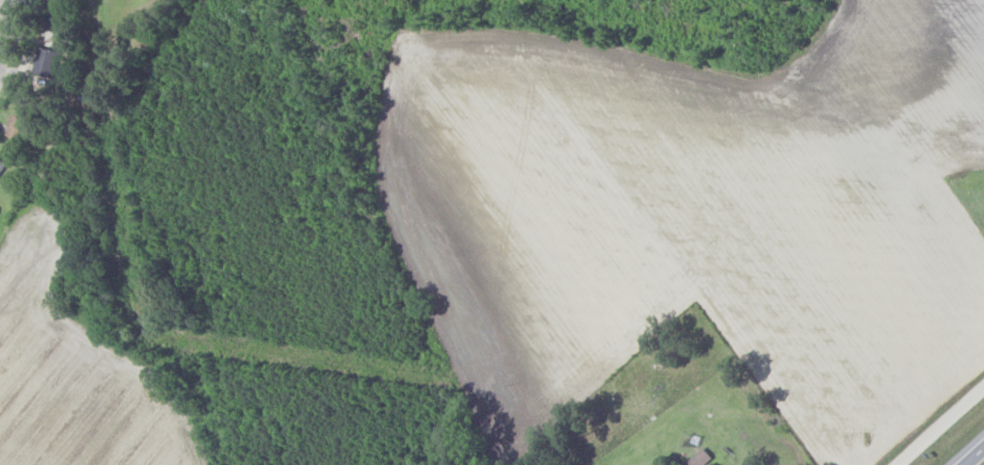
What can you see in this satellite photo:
building: (57, 15)
road: (7, 33)
building: (47, 63)
building: (19, 129)
building: (3, 167)
road: (944, 429)
building: (700, 458)
road: (977, 459)

